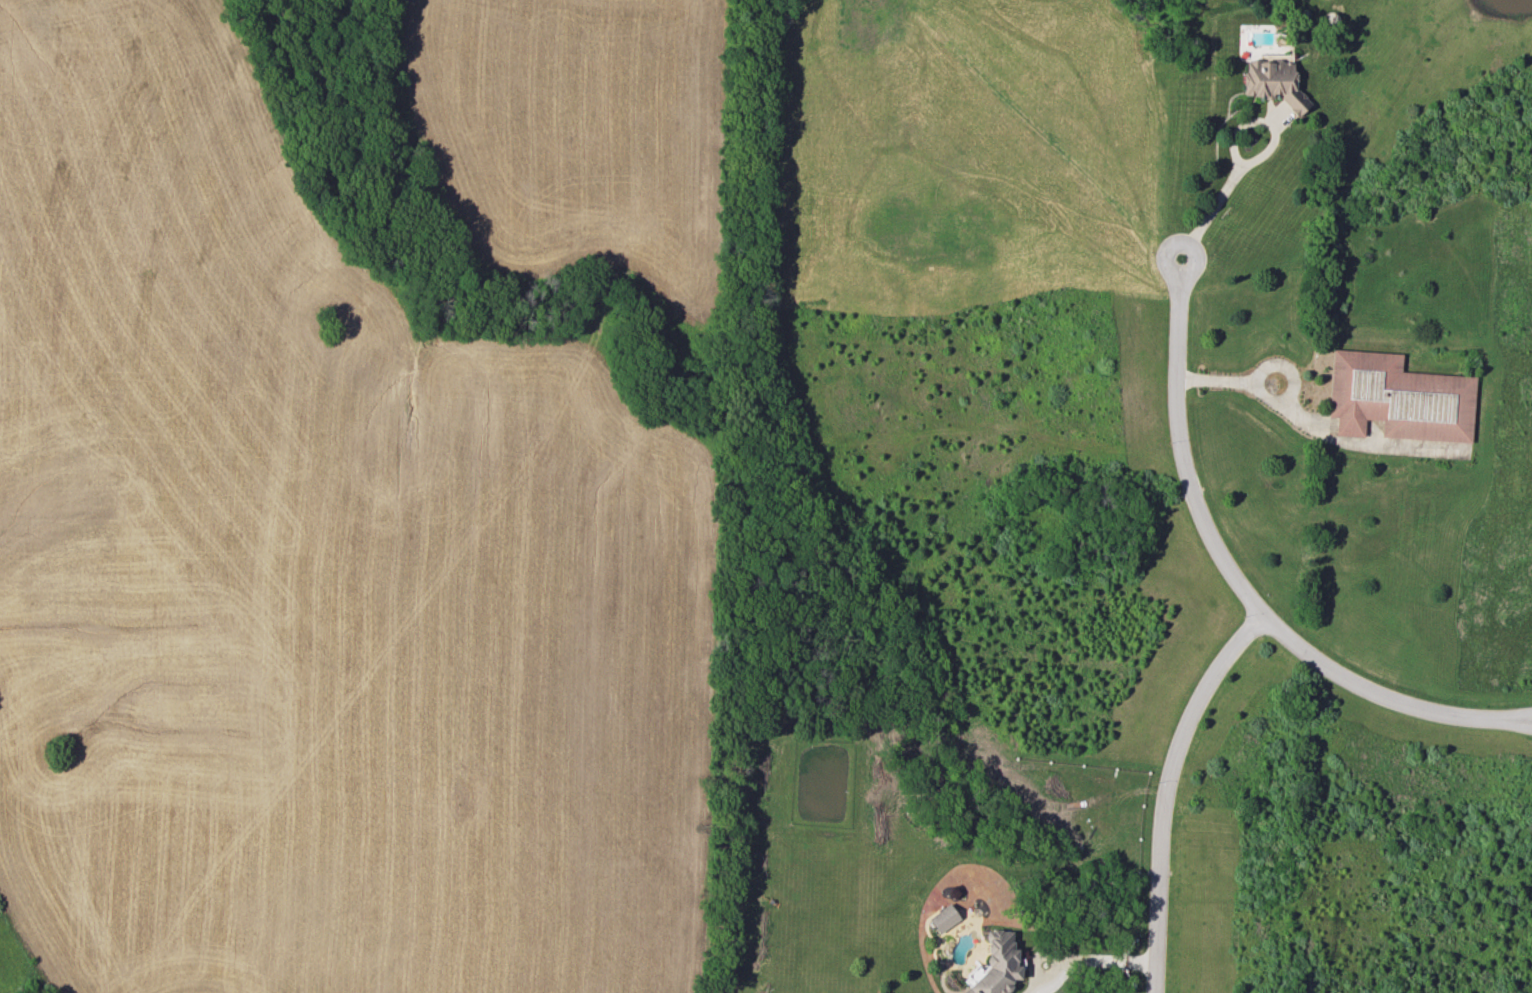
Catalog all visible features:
building: (1273, 82)
crop: (575, 131)
road: (1249, 160)
road: (1263, 394)
building: (1398, 398)
crop: (313, 576)
road: (1240, 580)
road: (1166, 787)
building: (943, 917)
road: (1087, 961)
building: (995, 965)

